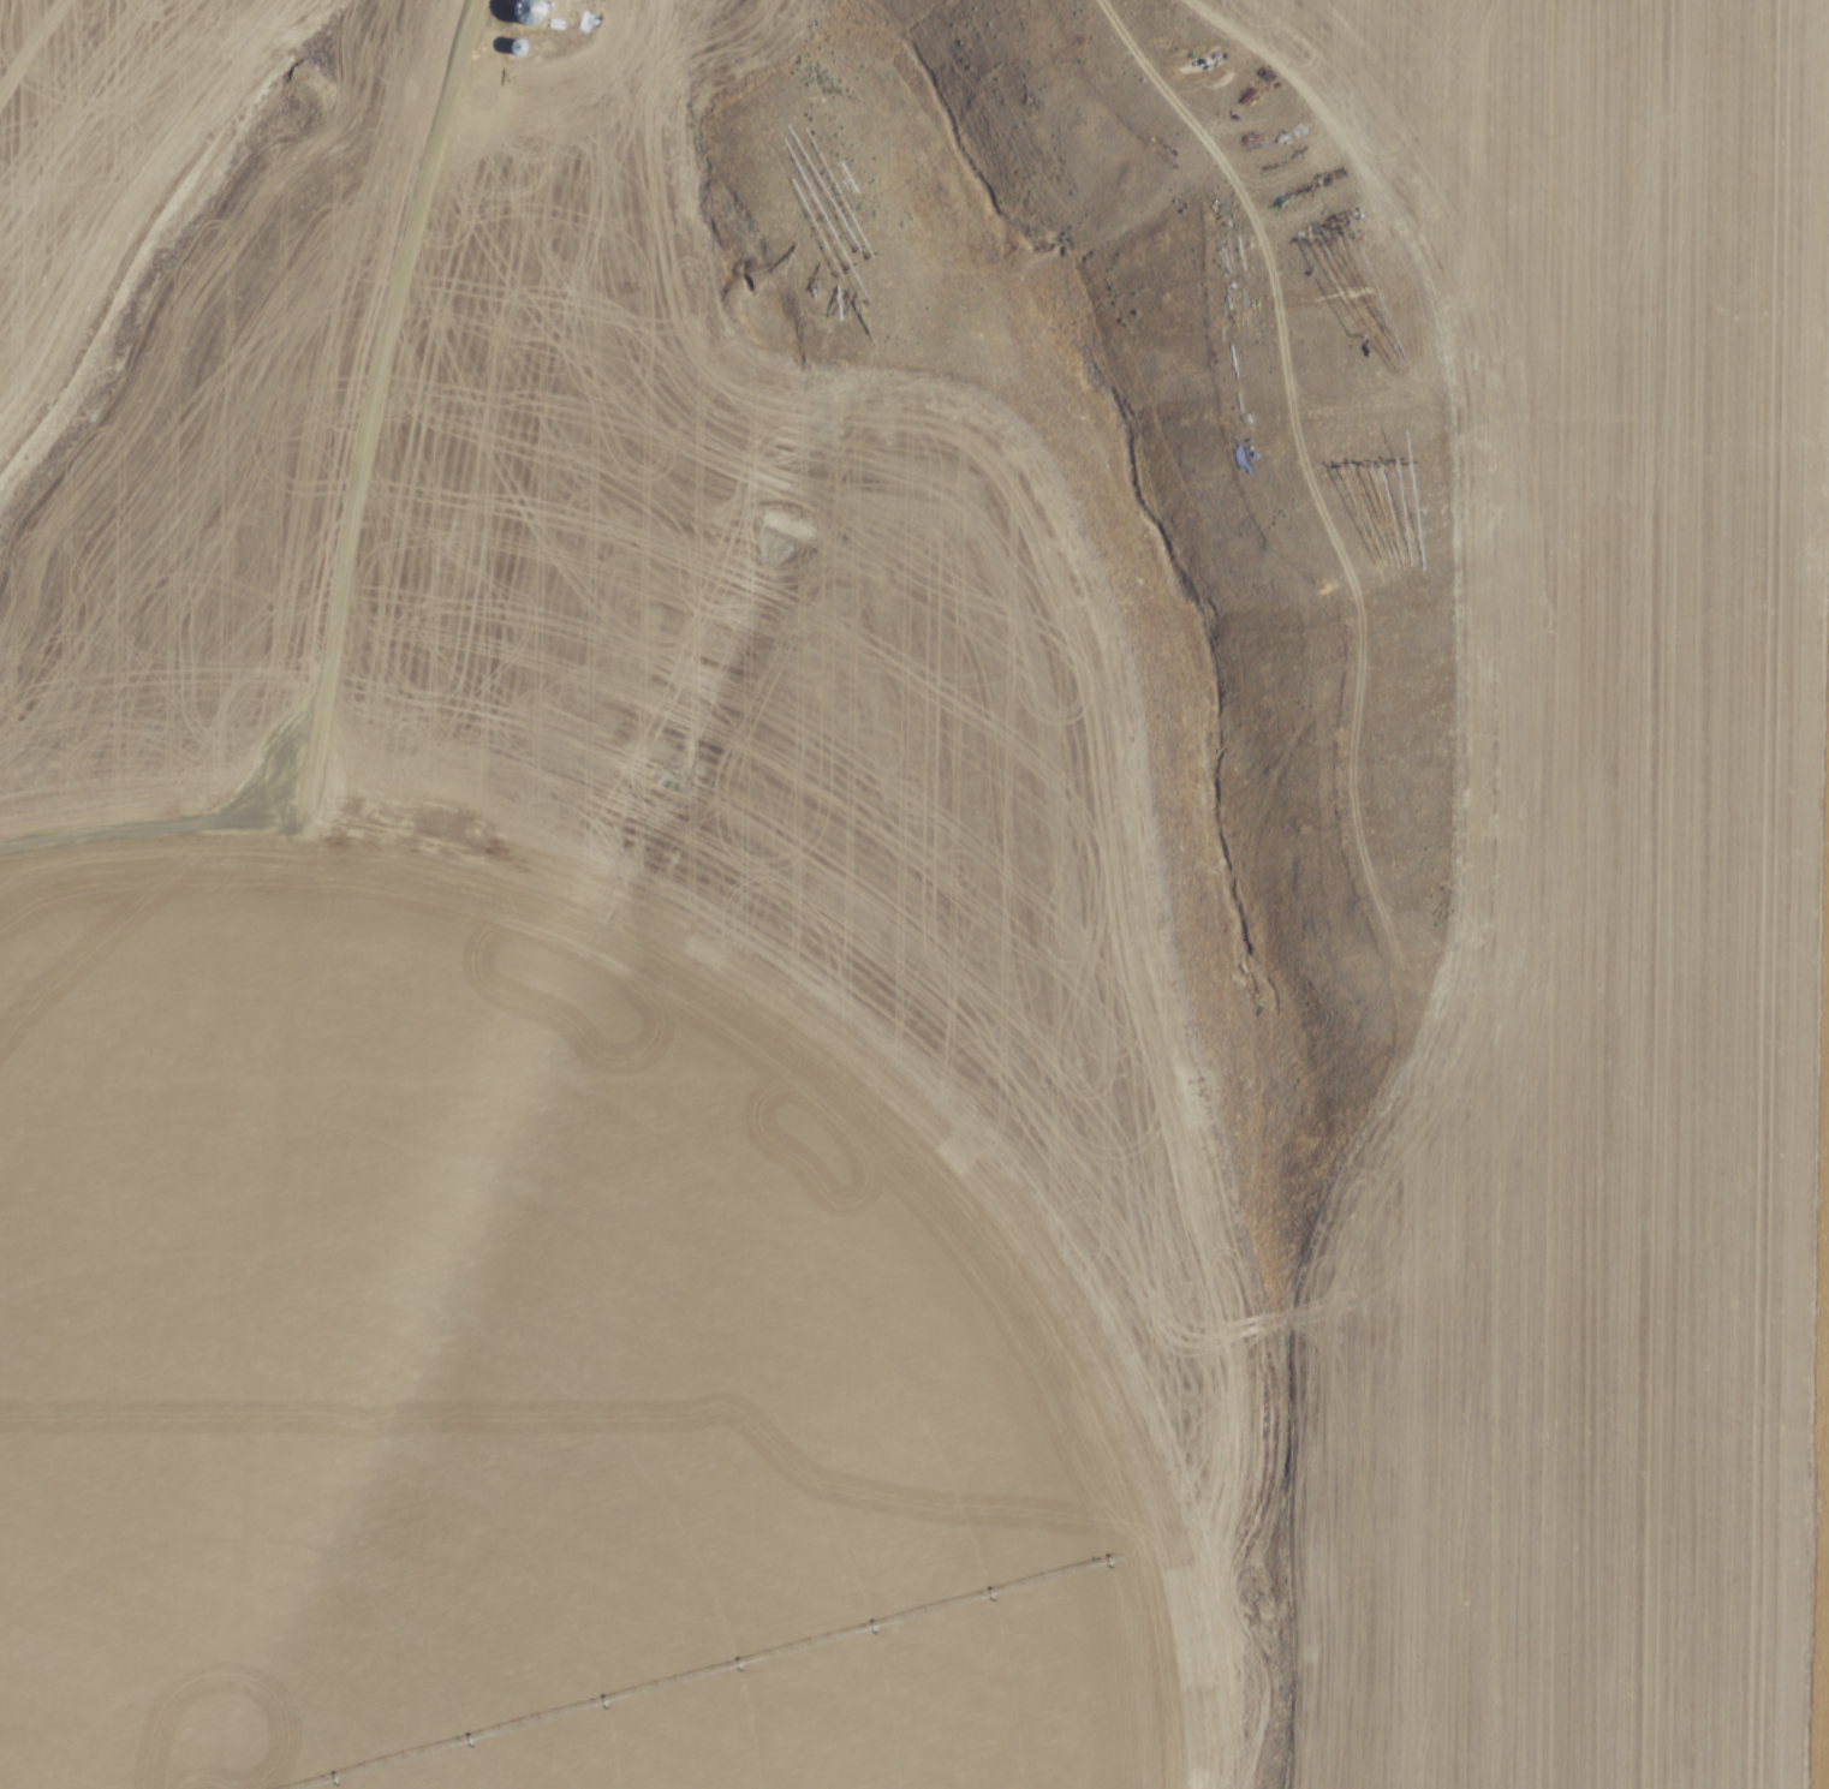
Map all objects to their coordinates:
building: (529, 11)
crop: (520, 1359)

